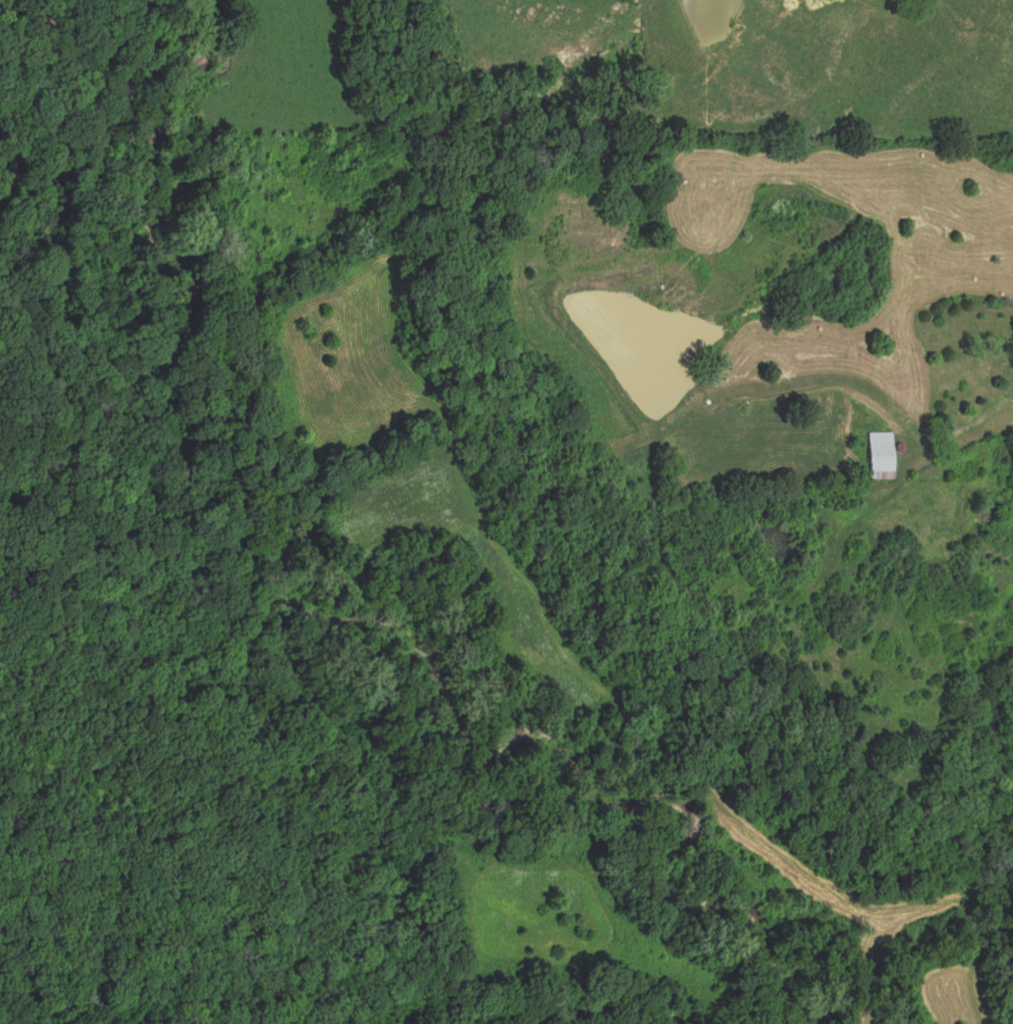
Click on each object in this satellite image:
building: (876, 455)

